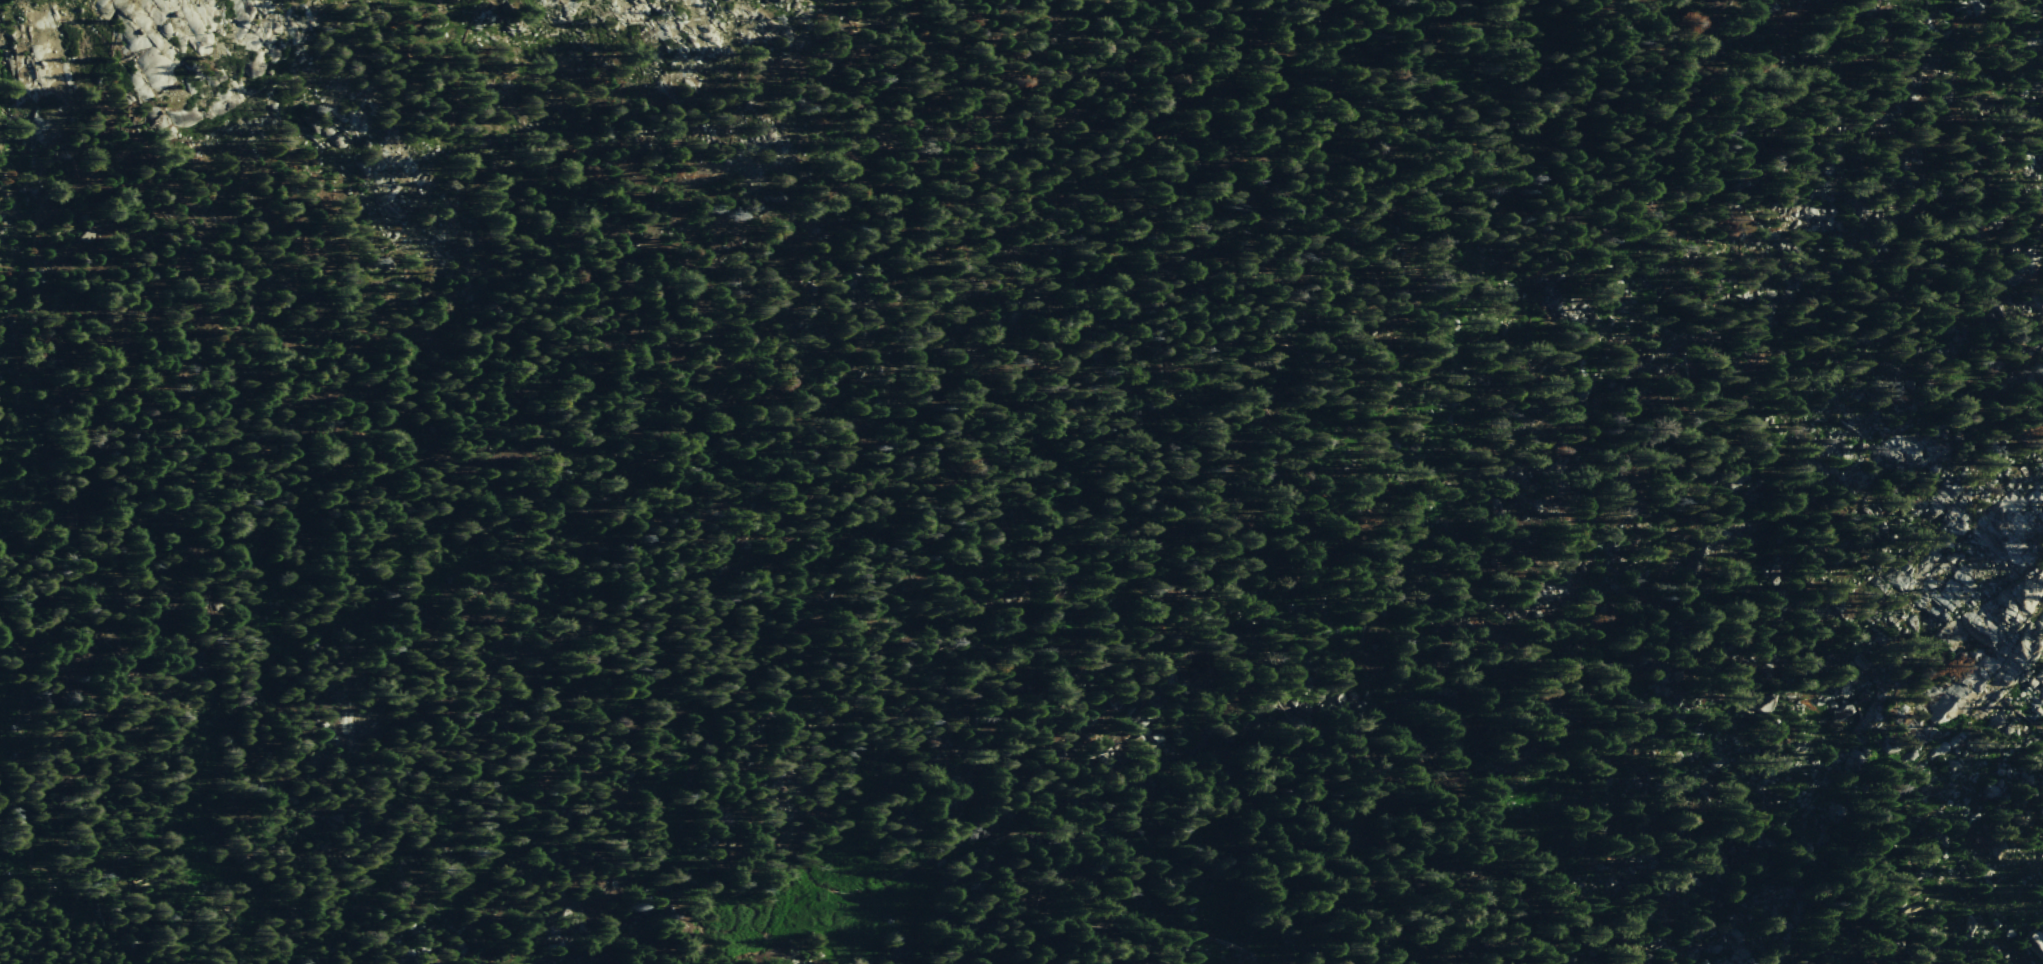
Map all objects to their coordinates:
road: (1615, 635)

